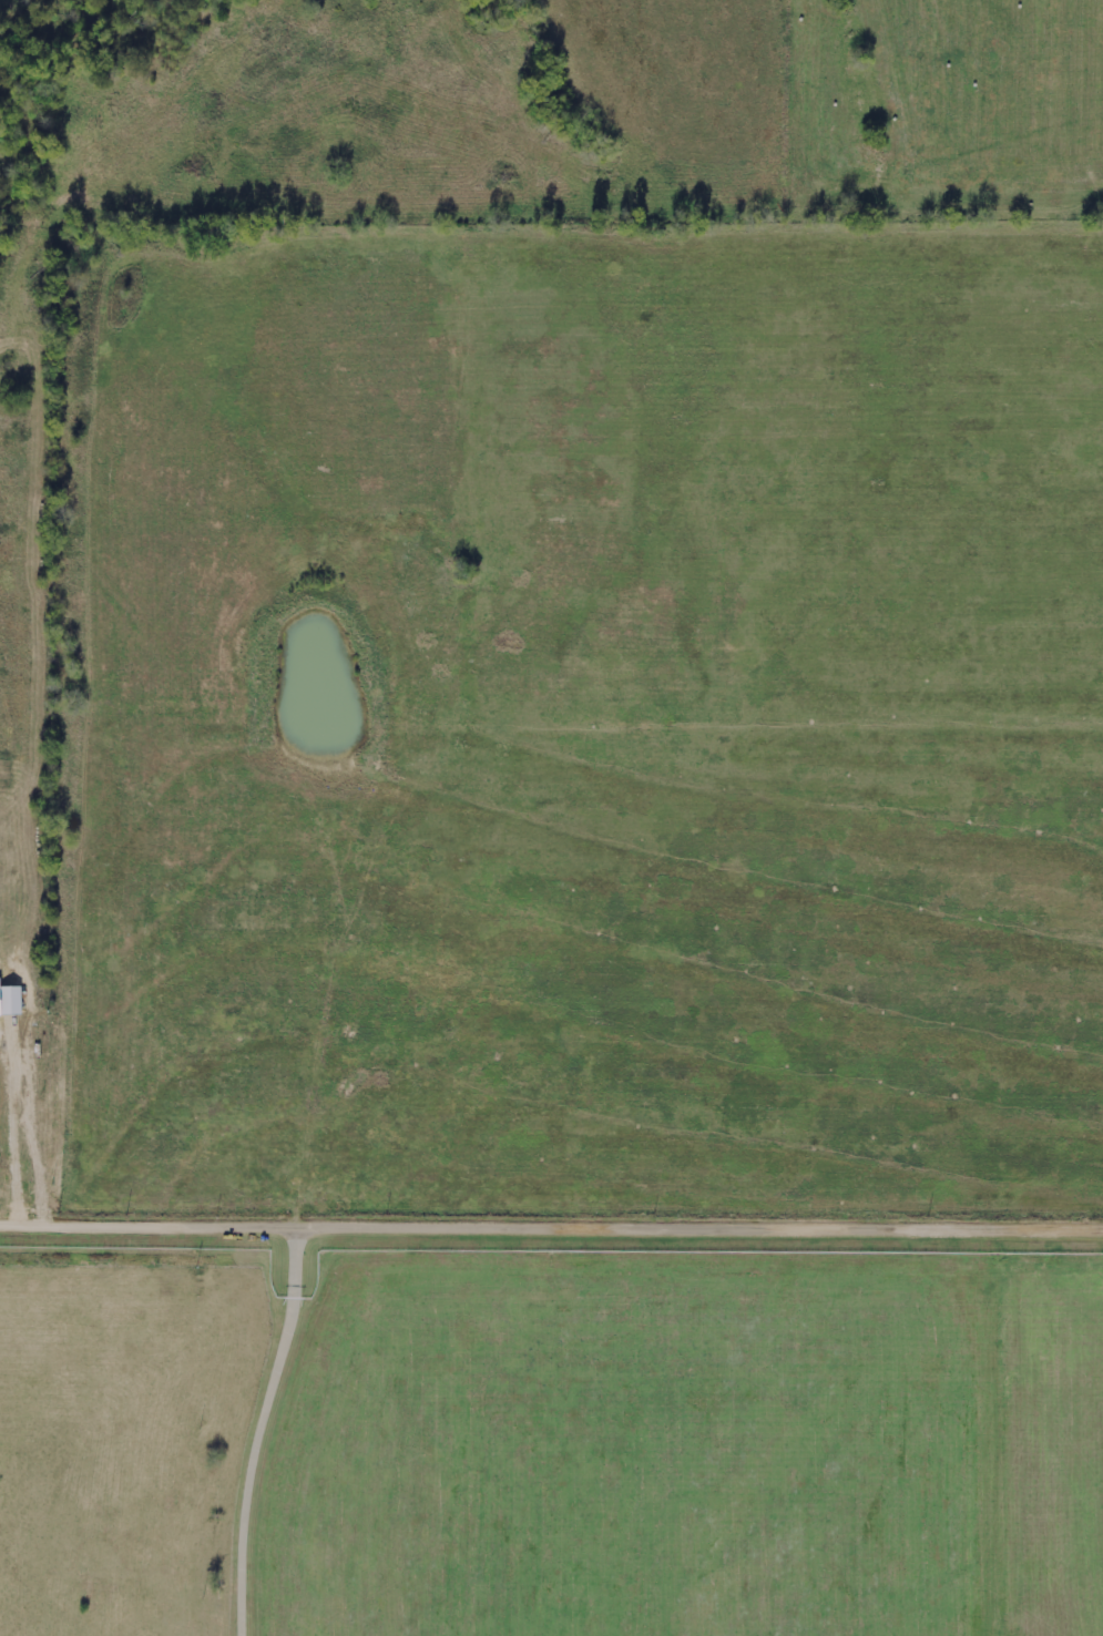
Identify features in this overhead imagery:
road: (551, 1233)

